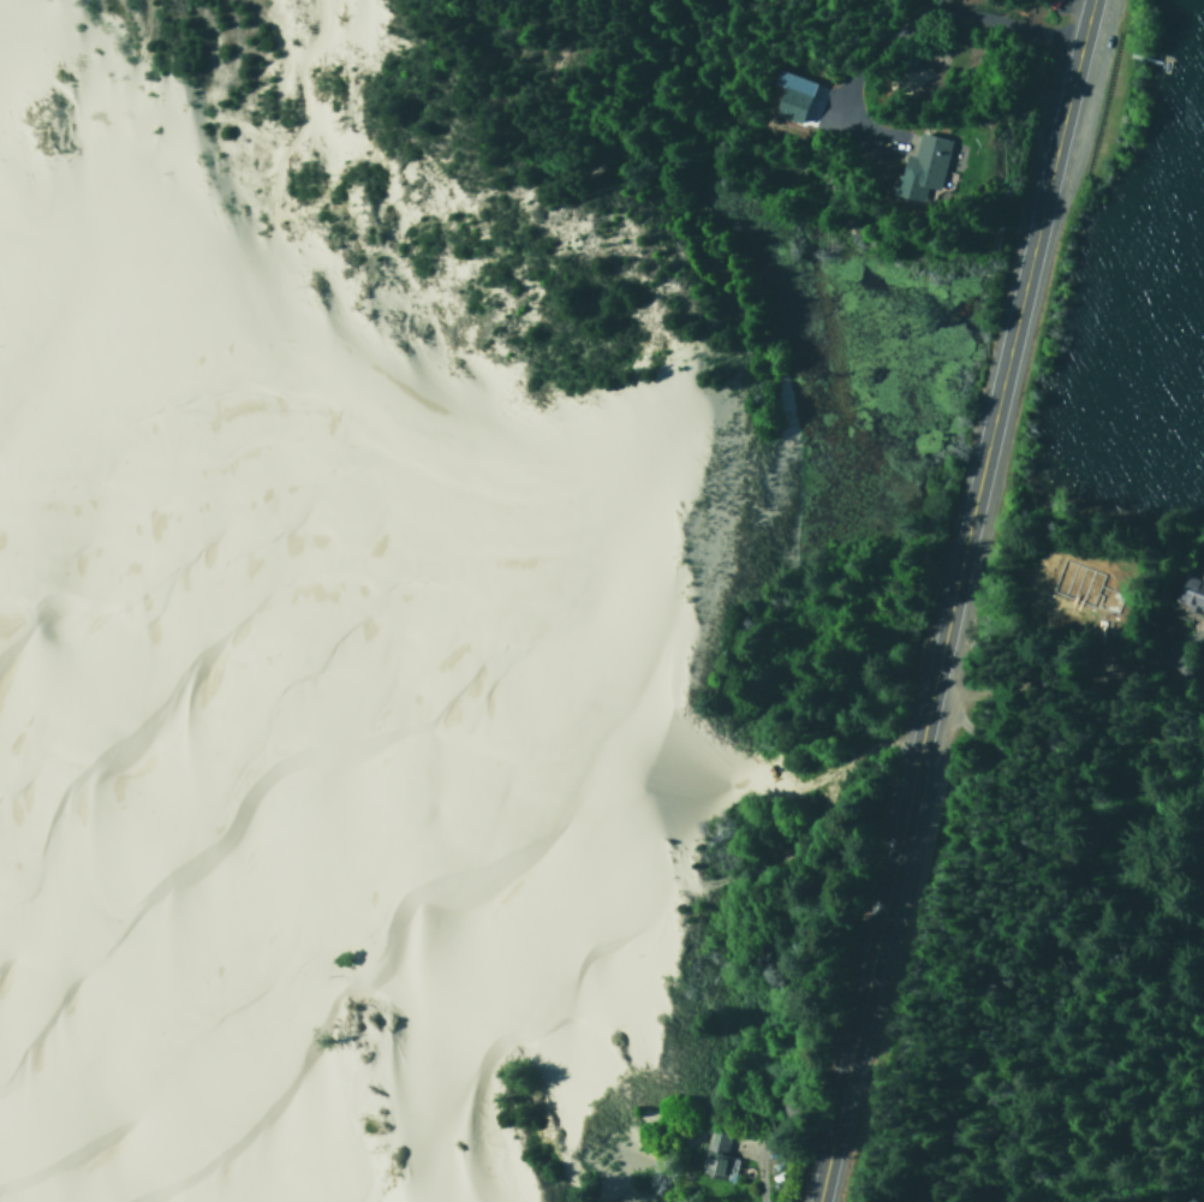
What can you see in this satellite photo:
parking lot: (1098, 88)
building: (787, 94)
building: (920, 166)
building: (1191, 593)
road: (953, 600)
road: (1061, 763)
building: (713, 1156)

